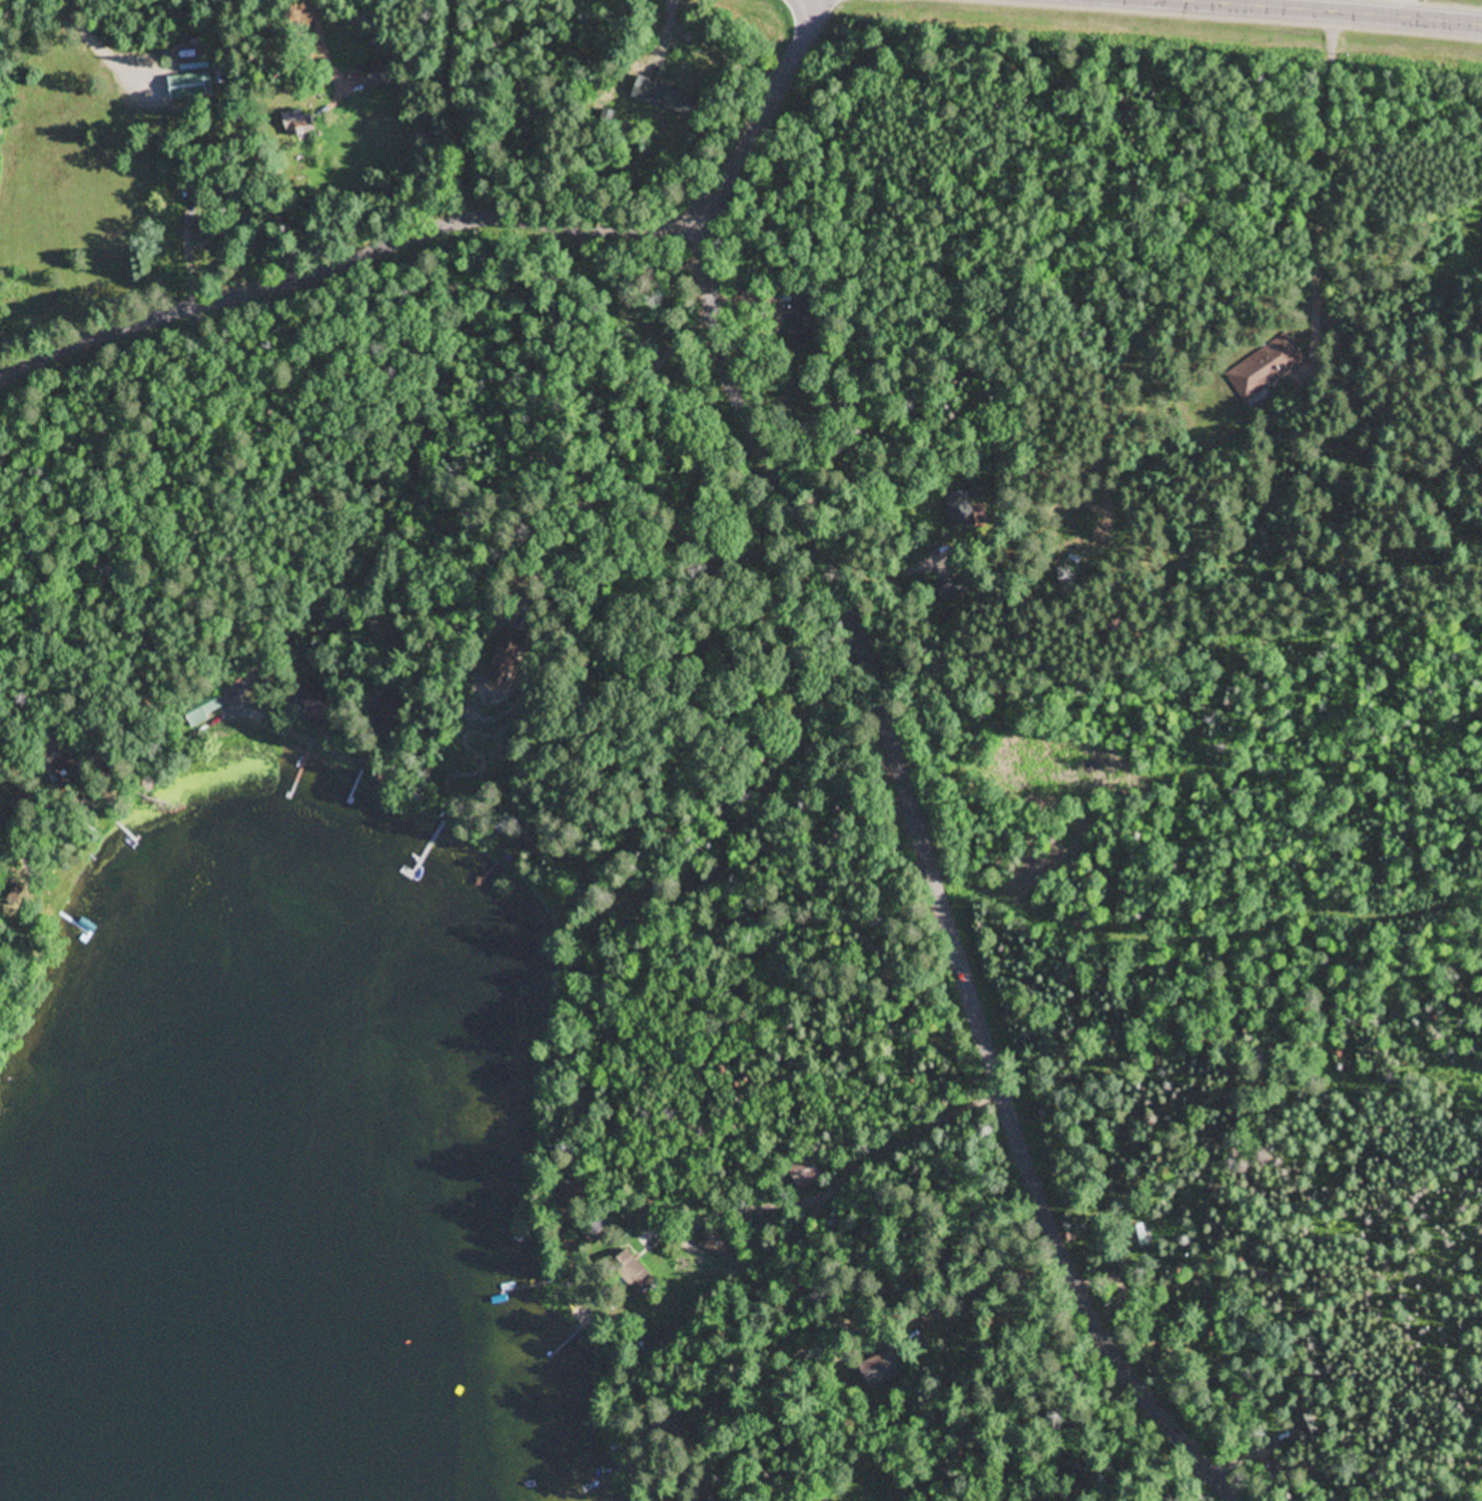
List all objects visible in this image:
road: (1325, 11)
road: (811, 31)
road: (666, 35)
road: (1213, 36)
road: (319, 44)
road: (104, 48)
road: (149, 70)
building: (375, 76)
building: (190, 86)
road: (1322, 197)
road: (188, 256)
road: (352, 261)
road: (743, 297)
building: (1267, 364)
road: (605, 448)
road: (353, 498)
building: (959, 506)
road: (890, 571)
road: (666, 667)
road: (789, 762)
road: (899, 762)
road: (36, 772)
road: (22, 843)
road: (827, 1178)
road: (644, 1218)
building: (709, 1241)
road: (1111, 1266)
building: (801, 1277)
building: (827, 1284)
road: (836, 1295)
road: (839, 1303)
road: (812, 1313)
road: (828, 1321)
road: (899, 1326)
road: (939, 1365)
building: (883, 1366)
road: (988, 1399)
building: (667, 1411)
road: (854, 1413)
road: (1036, 1417)
road: (687, 1425)
road: (853, 1434)
road: (628, 1451)
road: (667, 1467)
road: (660, 1469)
road: (1176, 1480)
building: (716, 1497)
road: (660, 1500)

